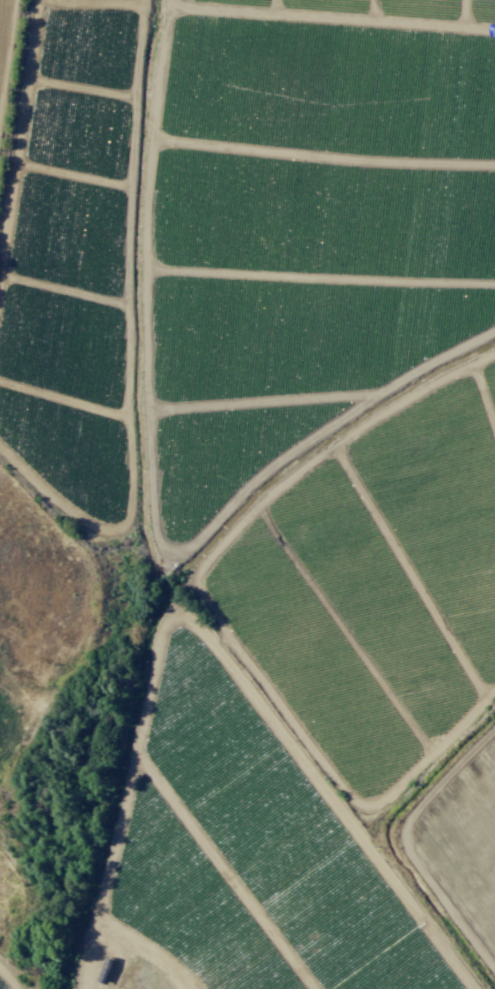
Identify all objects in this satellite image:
crop: (247, 494)

